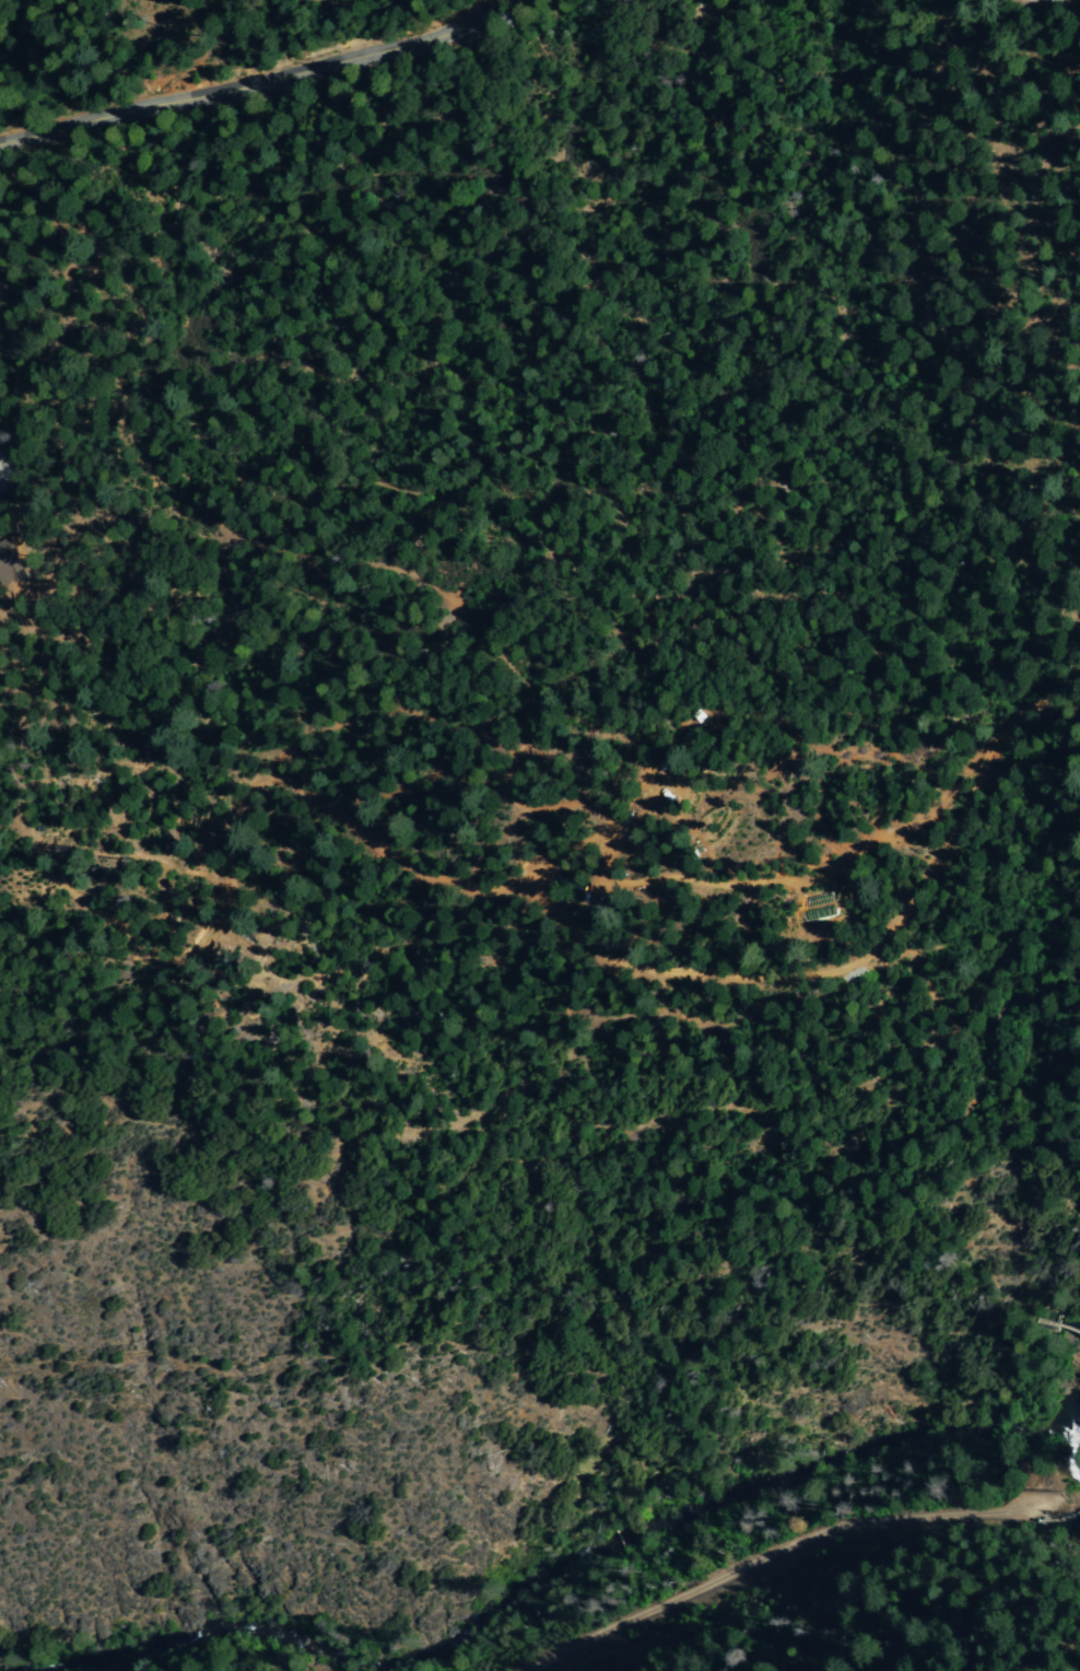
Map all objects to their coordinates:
road: (253, 80)
road: (1053, 698)
dam: (1057, 1325)
dam: (1059, 1519)

